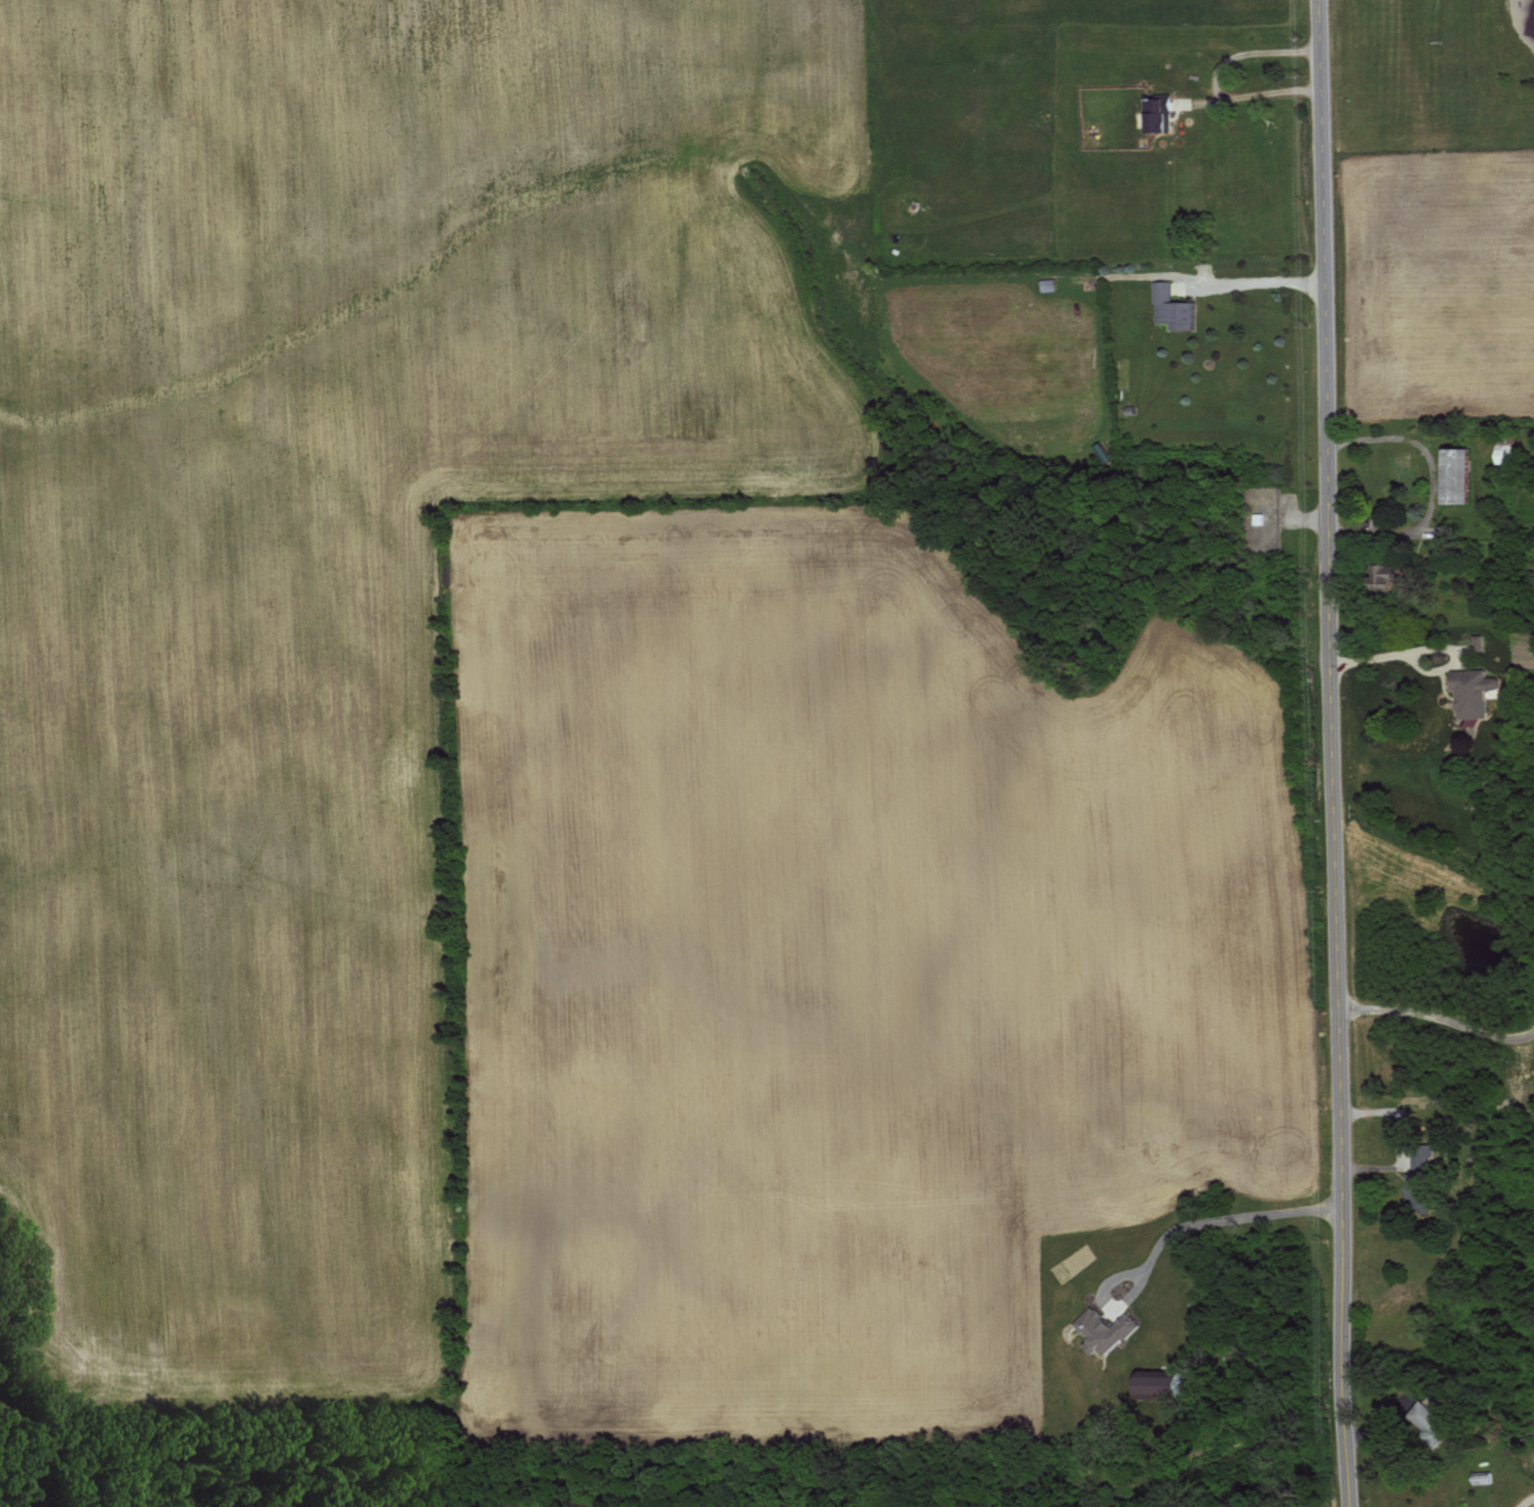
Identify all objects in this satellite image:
park: (1423, 74)
road: (1217, 77)
building: (1156, 114)
road: (1260, 281)
building: (1170, 308)
building: (1502, 453)
building: (1452, 476)
road: (1434, 487)
road: (1393, 653)
building: (1470, 690)
road: (1333, 753)
road: (1437, 1018)
road: (1227, 1216)
road: (1103, 1295)
building: (1100, 1329)
building: (1152, 1384)
road: (1529, 1503)

